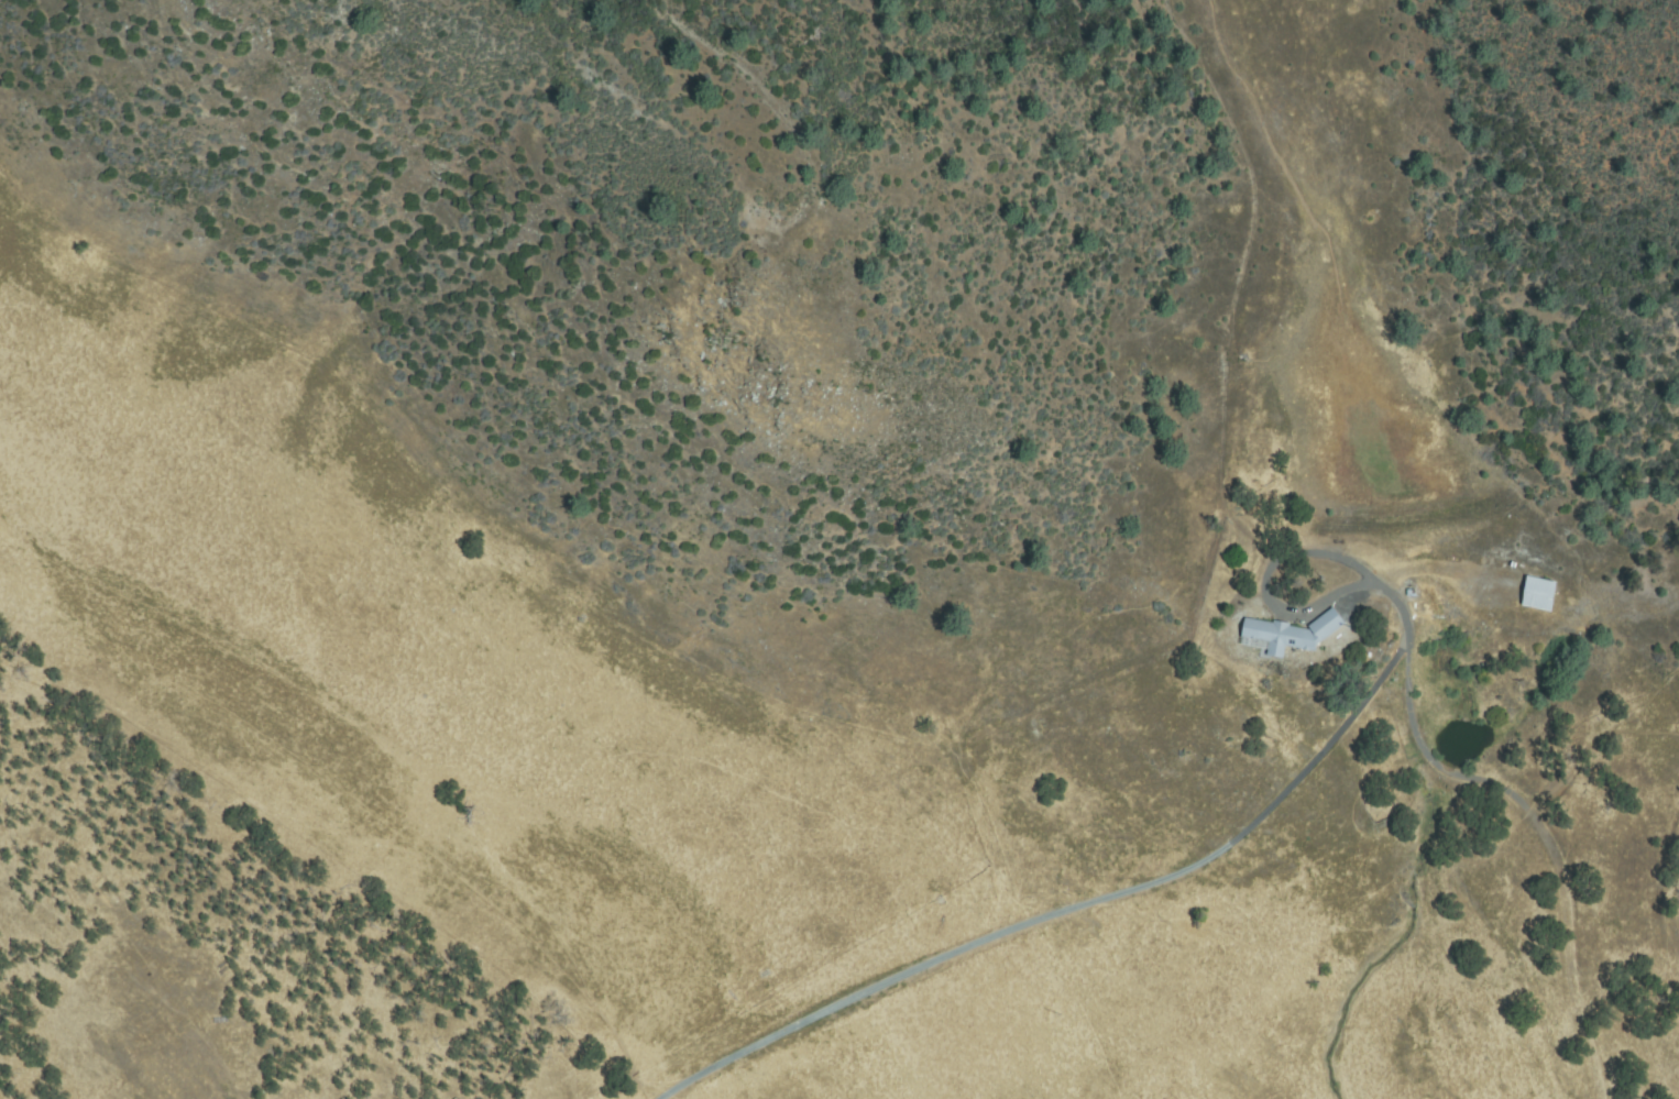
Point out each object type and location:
building: (1412, 593)
building: (1539, 594)
building: (1291, 633)
road: (1060, 904)
road: (230, 1091)
road: (674, 1097)

